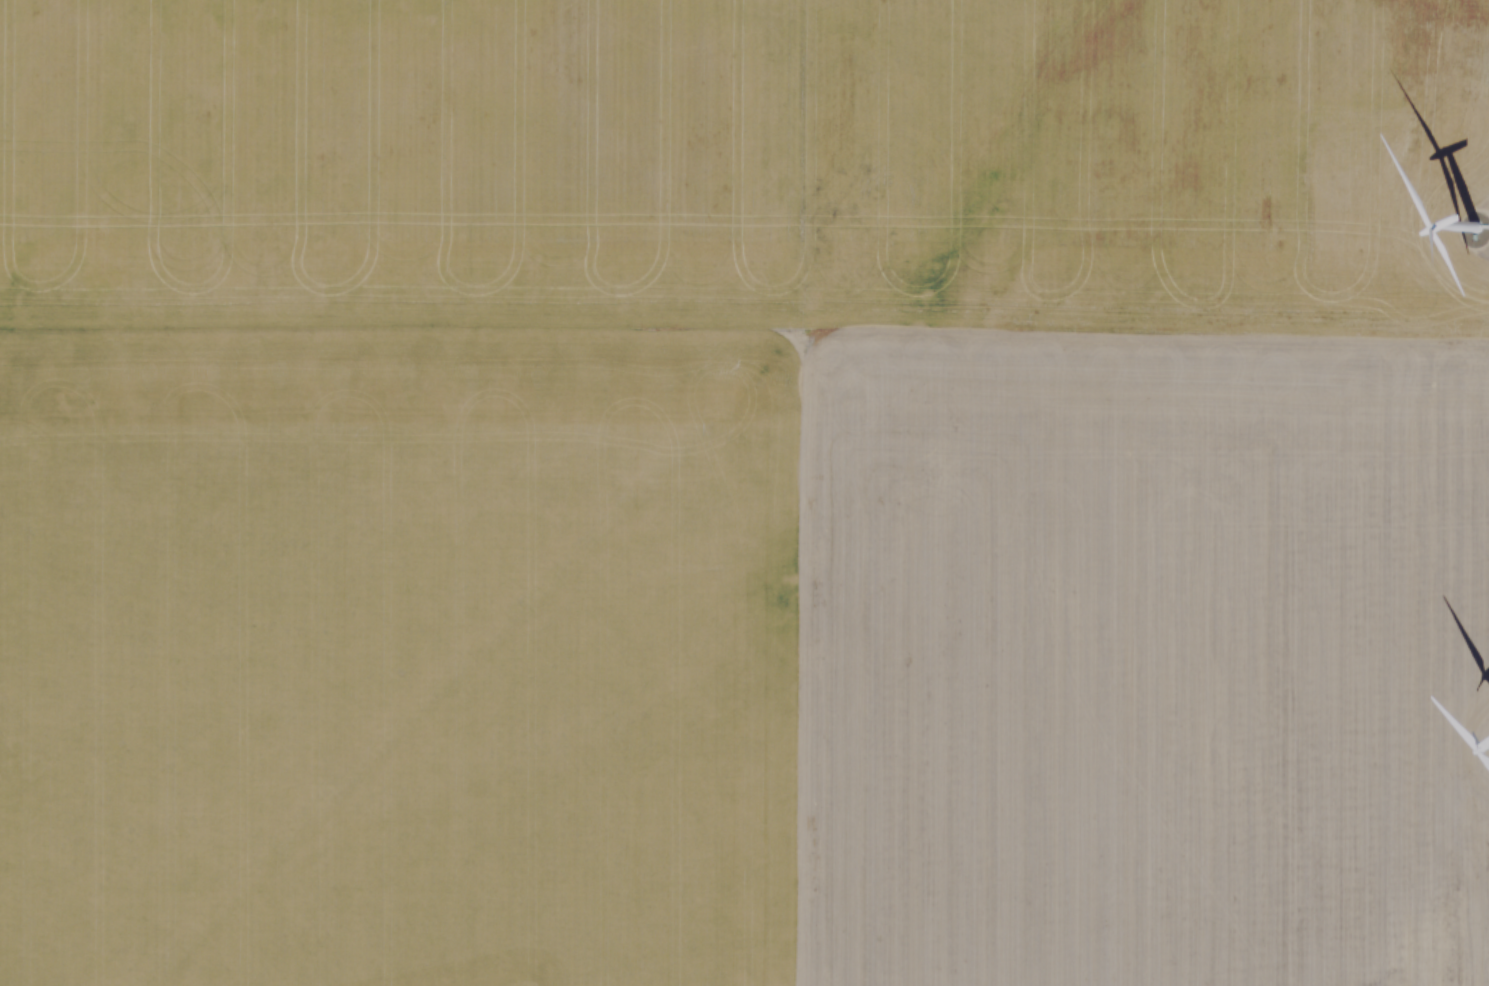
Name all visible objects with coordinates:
wind turbine: (1463, 234)

